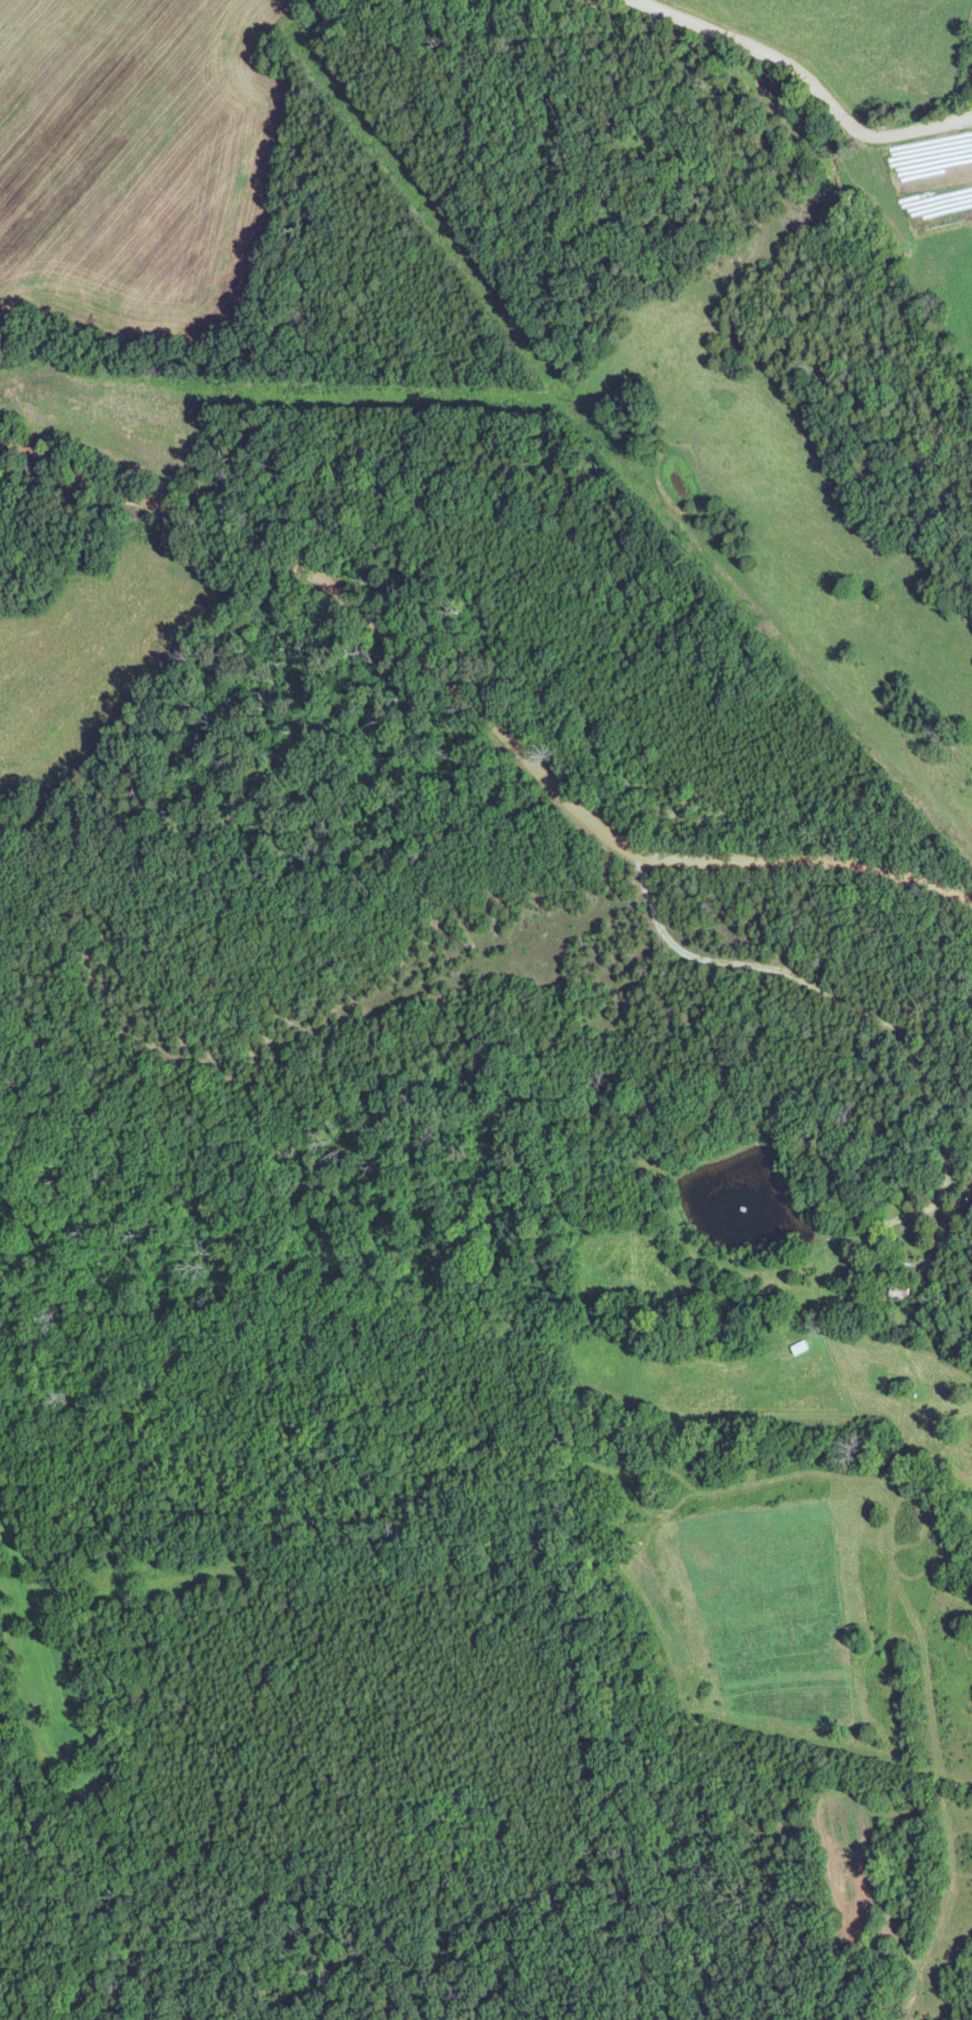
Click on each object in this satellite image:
road: (807, 79)
road: (482, 710)
road: (920, 1075)

